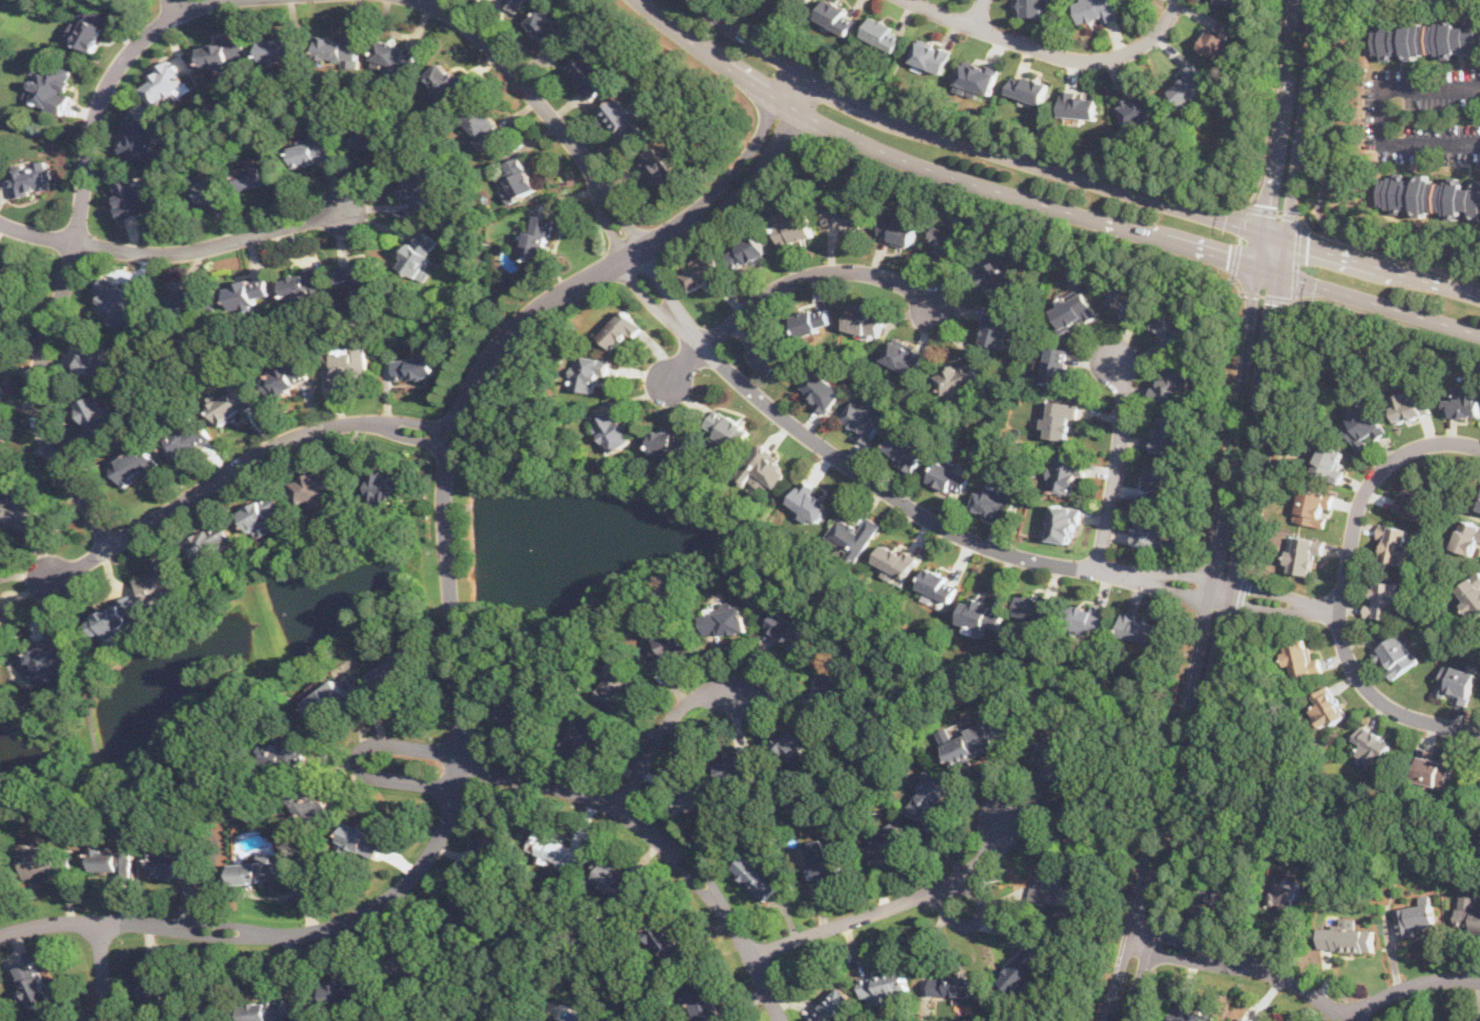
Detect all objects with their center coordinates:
building: (805, 1)
building: (1230, 1)
building: (793, 2)
building: (511, 4)
road: (174, 6)
building: (1031, 7)
building: (1095, 10)
road: (979, 13)
building: (837, 15)
building: (91, 26)
building: (551, 30)
building: (884, 32)
building: (1217, 37)
building: (1426, 39)
building: (340, 47)
building: (282, 49)
building: (226, 51)
road: (1052, 52)
building: (394, 56)
building: (931, 57)
building: (589, 73)
building: (977, 77)
building: (444, 82)
building: (1189, 83)
building: (167, 85)
building: (48, 87)
building: (1028, 87)
building: (1078, 104)
building: (1138, 108)
road: (546, 110)
road: (1382, 111)
road: (1290, 117)
building: (624, 118)
building: (483, 129)
building: (140, 138)
building: (371, 138)
building: (313, 151)
road: (1069, 160)
building: (661, 170)
building: (262, 173)
road: (1075, 175)
building: (519, 177)
building: (30, 178)
building: (211, 190)
building: (417, 191)
road: (1323, 192)
building: (1429, 194)
building: (135, 197)
road: (1042, 202)
road: (1272, 211)
building: (845, 217)
building: (794, 229)
building: (897, 231)
road: (38, 234)
building: (534, 239)
road: (1239, 240)
building: (948, 242)
road: (216, 245)
road: (74, 252)
building: (419, 252)
building: (748, 252)
road: (1272, 254)
road: (1387, 255)
road: (1296, 258)
road: (813, 272)
building: (358, 274)
building: (702, 275)
building: (997, 276)
road: (1237, 282)
building: (305, 283)
building: (9, 290)
building: (251, 292)
road: (1267, 295)
building: (1129, 299)
building: (117, 300)
building: (188, 301)
building: (1074, 312)
road: (1387, 318)
building: (812, 320)
building: (865, 320)
building: (995, 328)
building: (620, 329)
building: (1171, 329)
road: (493, 353)
building: (765, 354)
building: (904, 356)
building: (96, 358)
building: (344, 362)
building: (1057, 365)
building: (416, 367)
road: (681, 367)
building: (981, 367)
building: (588, 374)
building: (289, 376)
building: (958, 377)
building: (1173, 384)
building: (821, 391)
building: (234, 401)
building: (1463, 404)
building: (1408, 406)
building: (1, 408)
building: (100, 415)
building: (865, 418)
building: (1062, 420)
building: (727, 427)
building: (1363, 428)
building: (611, 431)
building: (1166, 433)
road: (1266, 436)
building: (186, 439)
building: (1, 440)
building: (667, 442)
building: (905, 450)
road: (1118, 461)
building: (1330, 463)
road: (238, 464)
building: (136, 465)
building: (764, 469)
building: (1065, 473)
building: (950, 477)
building: (1158, 481)
building: (314, 484)
building: (386, 486)
road: (888, 490)
building: (1413, 499)
building: (993, 500)
building: (811, 502)
building: (1479, 505)
building: (1313, 507)
building: (27, 510)
building: (261, 512)
building: (1064, 523)
building: (855, 532)
building: (1149, 533)
building: (1467, 535)
building: (210, 541)
building: (1393, 543)
building: (1303, 553)
building: (896, 558)
building: (160, 583)
building: (937, 583)
road: (1342, 586)
building: (1470, 595)
road: (1241, 596)
road: (1279, 600)
building: (1384, 600)
building: (1037, 607)
building: (983, 615)
building: (1090, 617)
building: (116, 620)
building: (6, 621)
building: (726, 621)
building: (1140, 626)
building: (791, 629)
building: (666, 646)
road: (1207, 650)
building: (51, 656)
building: (1395, 656)
building: (1300, 657)
building: (394, 666)
building: (830, 681)
building: (1456, 682)
building: (618, 686)
building: (328, 698)
building: (514, 707)
building: (1326, 708)
road: (664, 726)
building: (589, 734)
building: (969, 742)
building: (1372, 746)
building: (287, 747)
building: (794, 747)
building: (1050, 753)
road: (357, 757)
road: (154, 760)
building: (737, 765)
road: (1203, 769)
building: (1433, 769)
building: (929, 798)
building: (691, 799)
building: (309, 805)
building: (1075, 822)
building: (362, 838)
road: (662, 841)
building: (886, 842)
building: (496, 843)
building: (556, 850)
building: (42, 858)
building: (109, 858)
building: (825, 858)
building: (174, 864)
building: (258, 869)
building: (758, 872)
building: (613, 877)
building: (1055, 885)
building: (1222, 892)
building: (1284, 903)
road: (894, 904)
building: (1468, 910)
building: (1415, 916)
building: (458, 919)
road: (272, 934)
building: (664, 936)
road: (560, 937)
building: (1346, 939)
road: (1158, 942)
building: (406, 963)
road: (1249, 967)
building: (1024, 968)
road: (102, 972)
road: (219, 976)
building: (155, 982)
building: (34, 983)
building: (886, 984)
road: (613, 985)
building: (954, 985)
road: (1409, 987)
building: (343, 990)
road: (1144, 993)
building: (703, 1001)
building: (833, 1006)
building: (266, 1009)
building: (1190, 1014)
road: (1329, 1014)
building: (1245, 1019)

